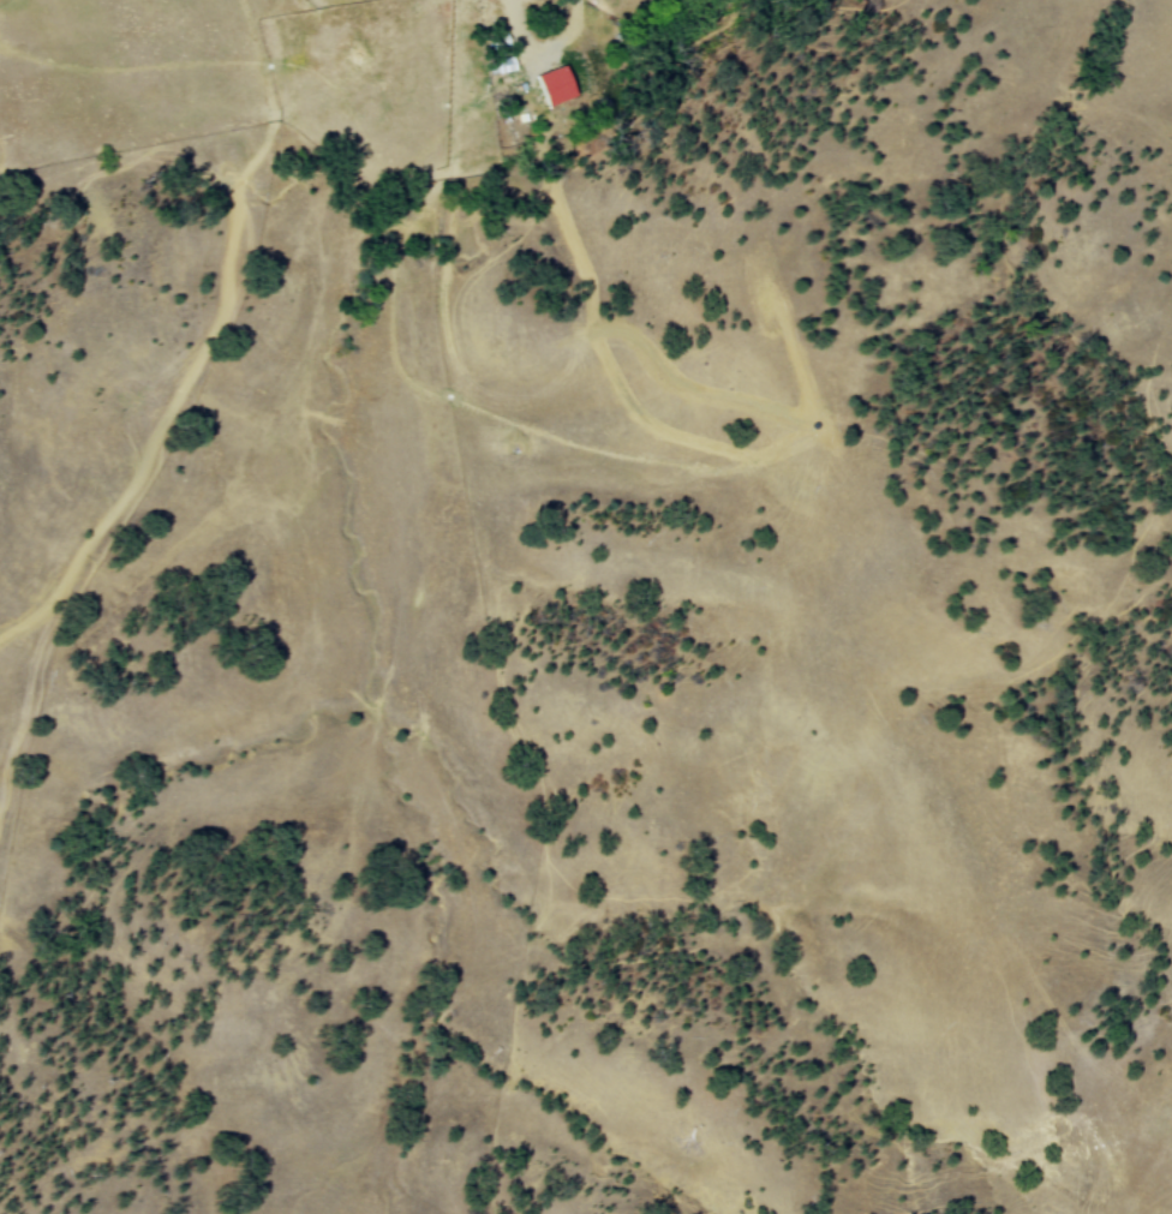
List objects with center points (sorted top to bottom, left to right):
building: (552, 84)

